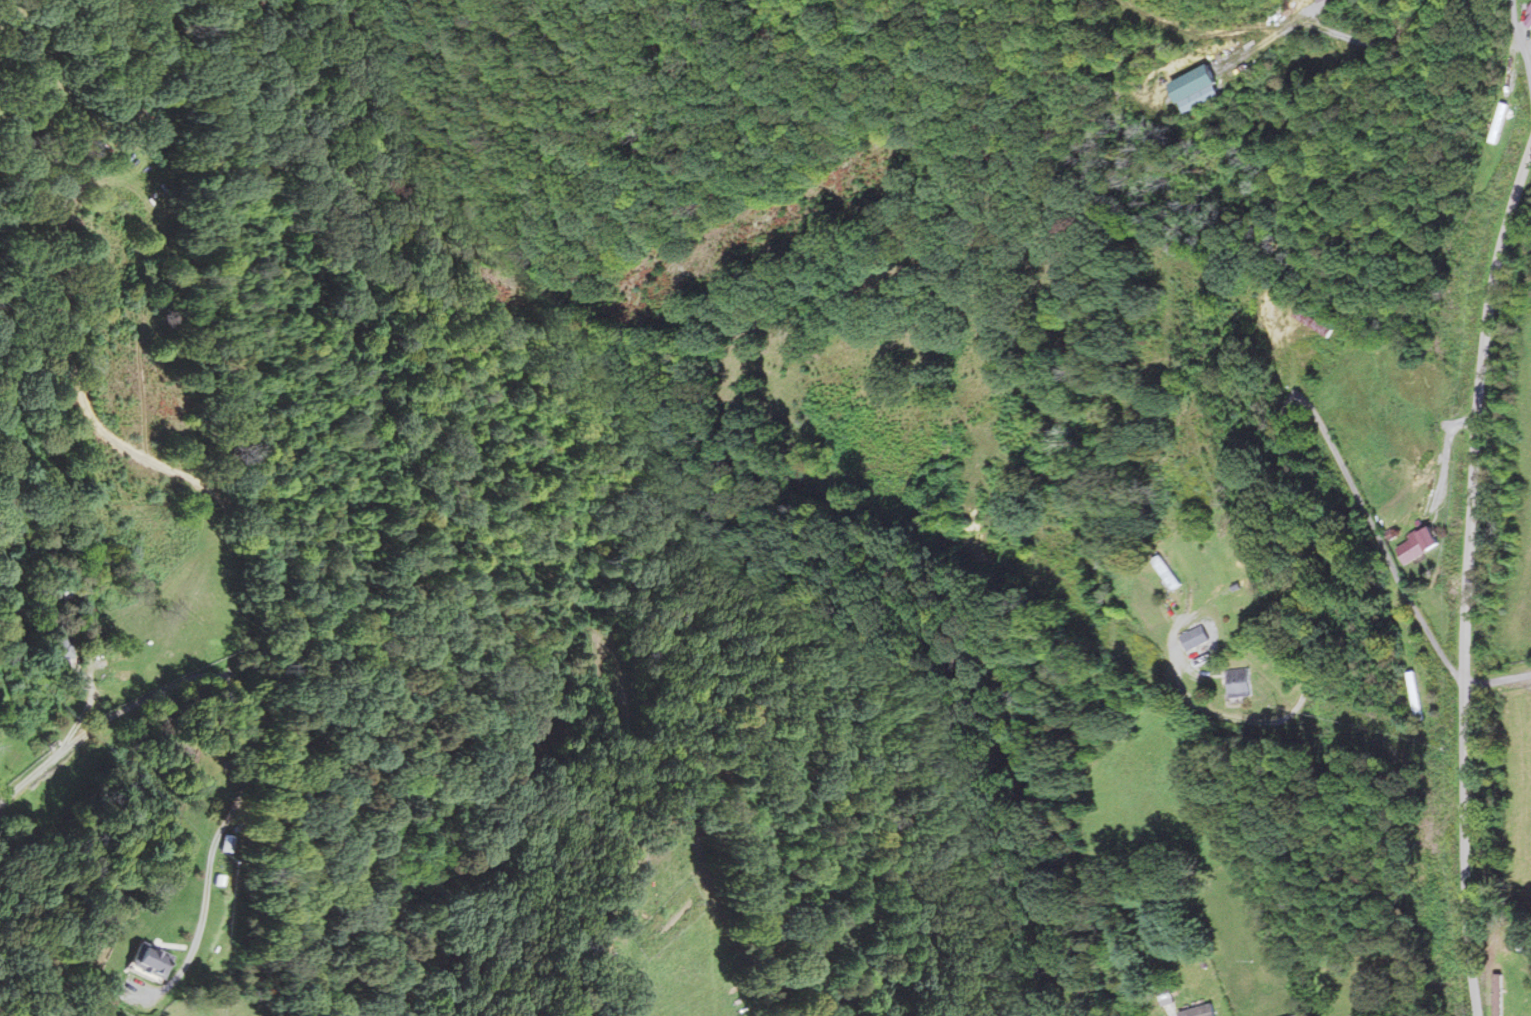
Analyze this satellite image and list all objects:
building: (1334, 3)
building: (1529, 18)
building: (1201, 89)
building: (1500, 123)
road: (78, 396)
road: (1287, 472)
building: (1425, 544)
building: (1172, 571)
road: (1468, 579)
building: (63, 594)
building: (1200, 637)
building: (61, 643)
road: (1498, 680)
building: (1247, 682)
building: (1424, 690)
road: (76, 723)
road: (249, 763)
building: (152, 960)
road: (1384, 971)
building: (1499, 995)
road: (1172, 1010)

